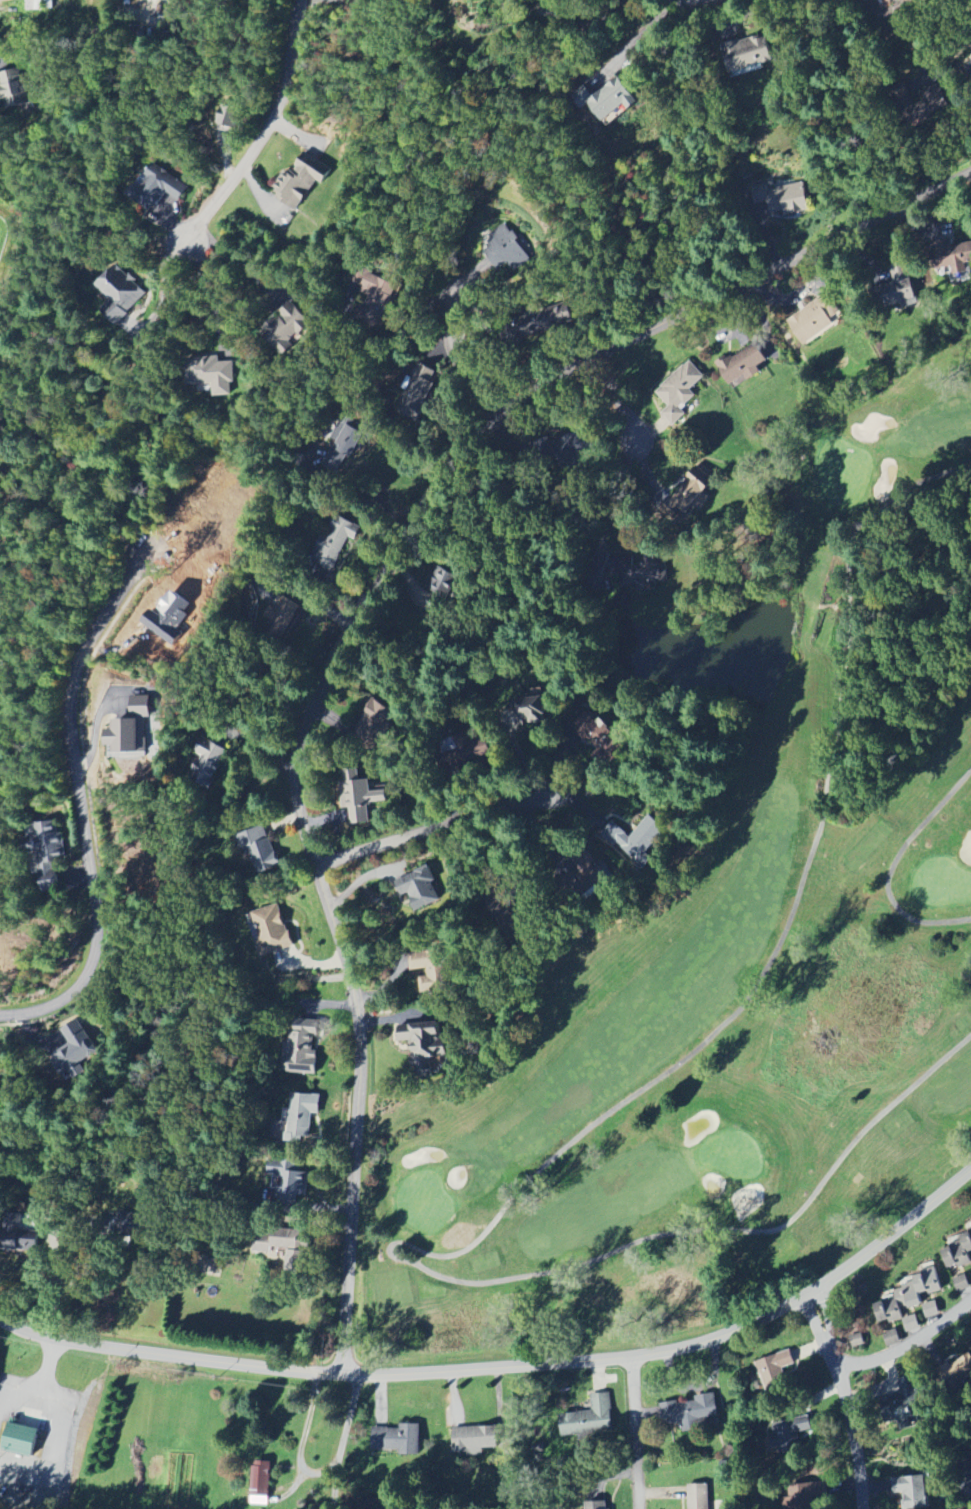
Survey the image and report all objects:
building: (878, 0)
road: (588, 23)
road: (24, 31)
road: (634, 40)
building: (748, 55)
building: (969, 69)
building: (15, 89)
building: (607, 99)
building: (228, 119)
road: (266, 131)
building: (300, 181)
building: (158, 189)
building: (787, 200)
building: (506, 249)
road: (240, 263)
building: (955, 263)
building: (900, 288)
road: (210, 290)
building: (119, 294)
building: (378, 294)
building: (814, 320)
building: (287, 328)
road: (448, 353)
building: (743, 364)
building: (217, 378)
building: (418, 392)
building: (679, 392)
road: (623, 407)
building: (687, 494)
road: (617, 499)
building: (334, 542)
building: (438, 584)
road: (309, 595)
building: (281, 616)
road: (356, 617)
building: (534, 707)
building: (376, 725)
building: (128, 730)
building: (599, 739)
building: (204, 763)
building: (359, 795)
road: (81, 806)
road: (430, 829)
building: (261, 850)
building: (48, 855)
road: (893, 865)
building: (418, 888)
building: (505, 913)
building: (271, 930)
park: (743, 966)
building: (430, 971)
building: (303, 1046)
building: (425, 1046)
building: (74, 1048)
building: (301, 1116)
road: (552, 1157)
building: (287, 1182)
road: (103, 1234)
building: (18, 1237)
building: (287, 1247)
building: (959, 1252)
building: (967, 1273)
building: (961, 1284)
building: (911, 1301)
building: (900, 1328)
building: (892, 1339)
road: (910, 1347)
road: (509, 1364)
road: (49, 1369)
building: (774, 1370)
building: (959, 1371)
road: (15, 1389)
road: (846, 1399)
building: (691, 1413)
building: (588, 1419)
road: (634, 1432)
building: (788, 1435)
building: (19, 1440)
road: (345, 1440)
building: (397, 1440)
building: (474, 1440)
road: (56, 1456)
building: (911, 1491)
building: (698, 1497)
building: (800, 1497)
building: (595, 1505)

